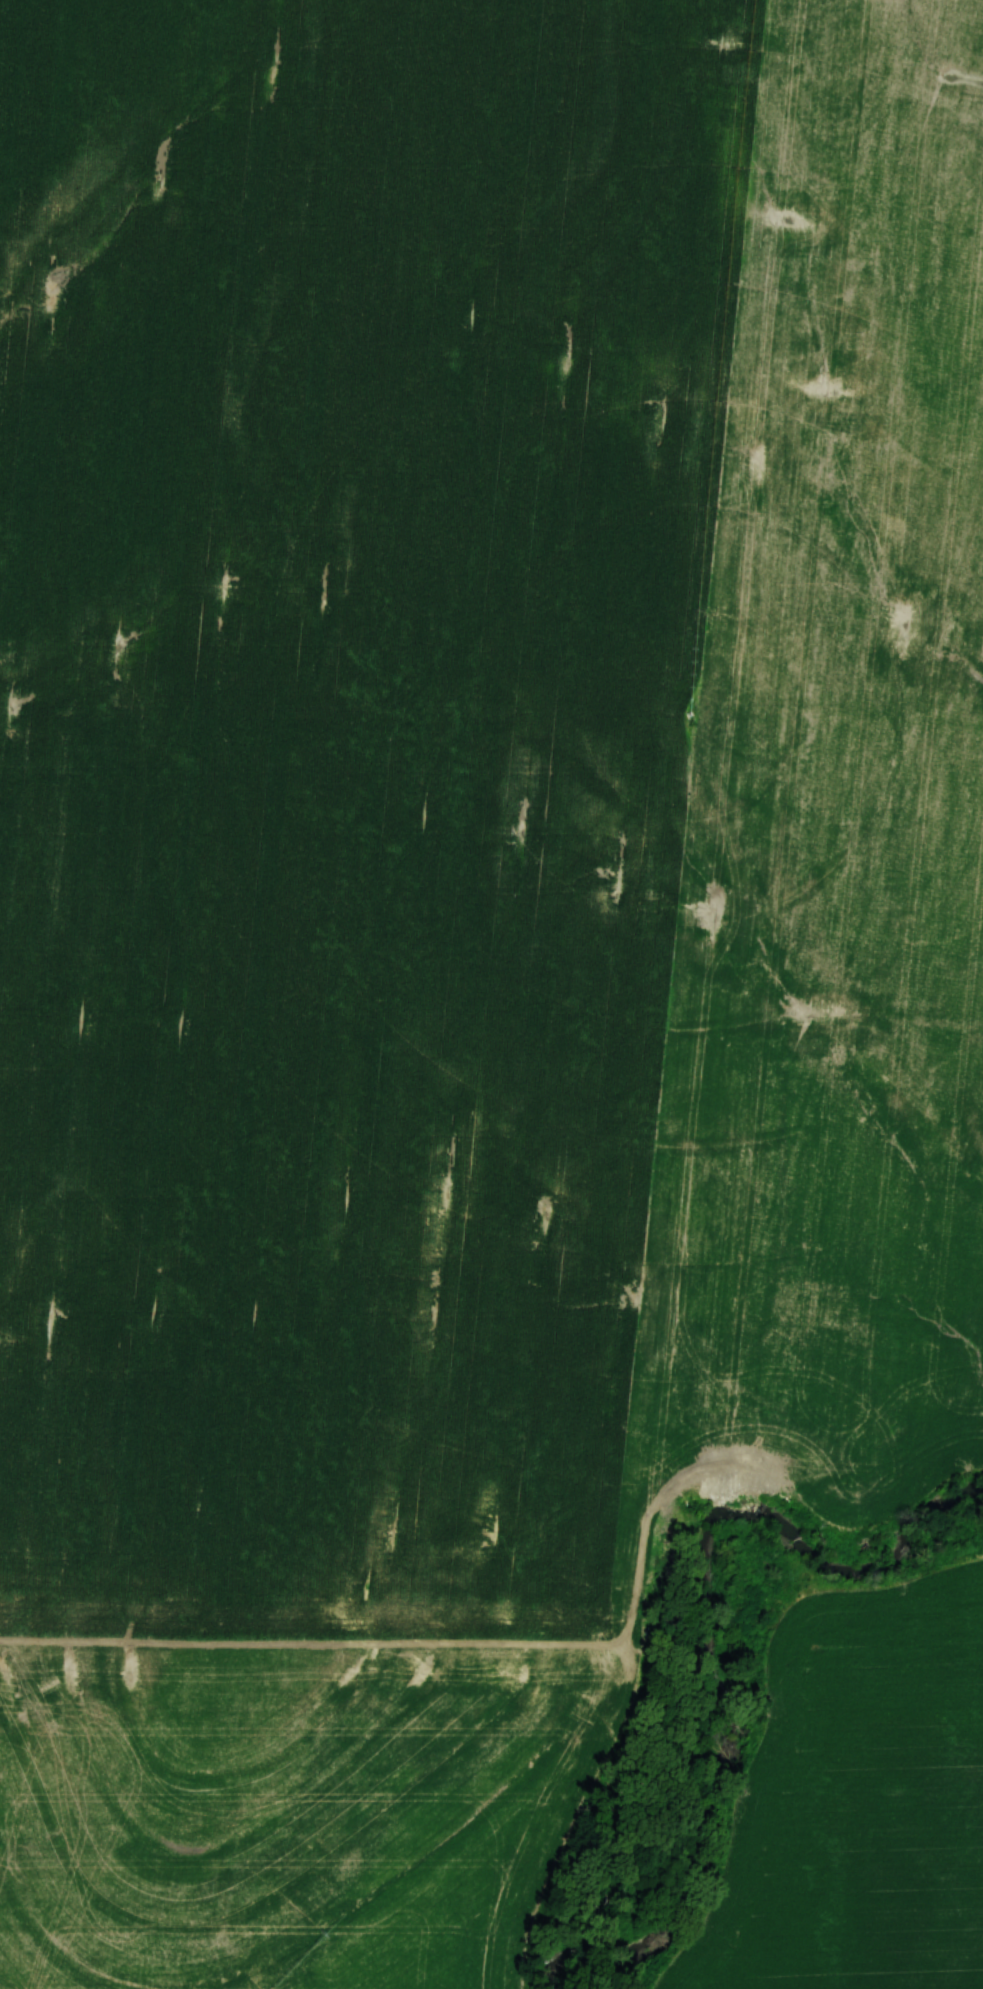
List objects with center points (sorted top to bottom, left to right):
road: (349, 1156)

